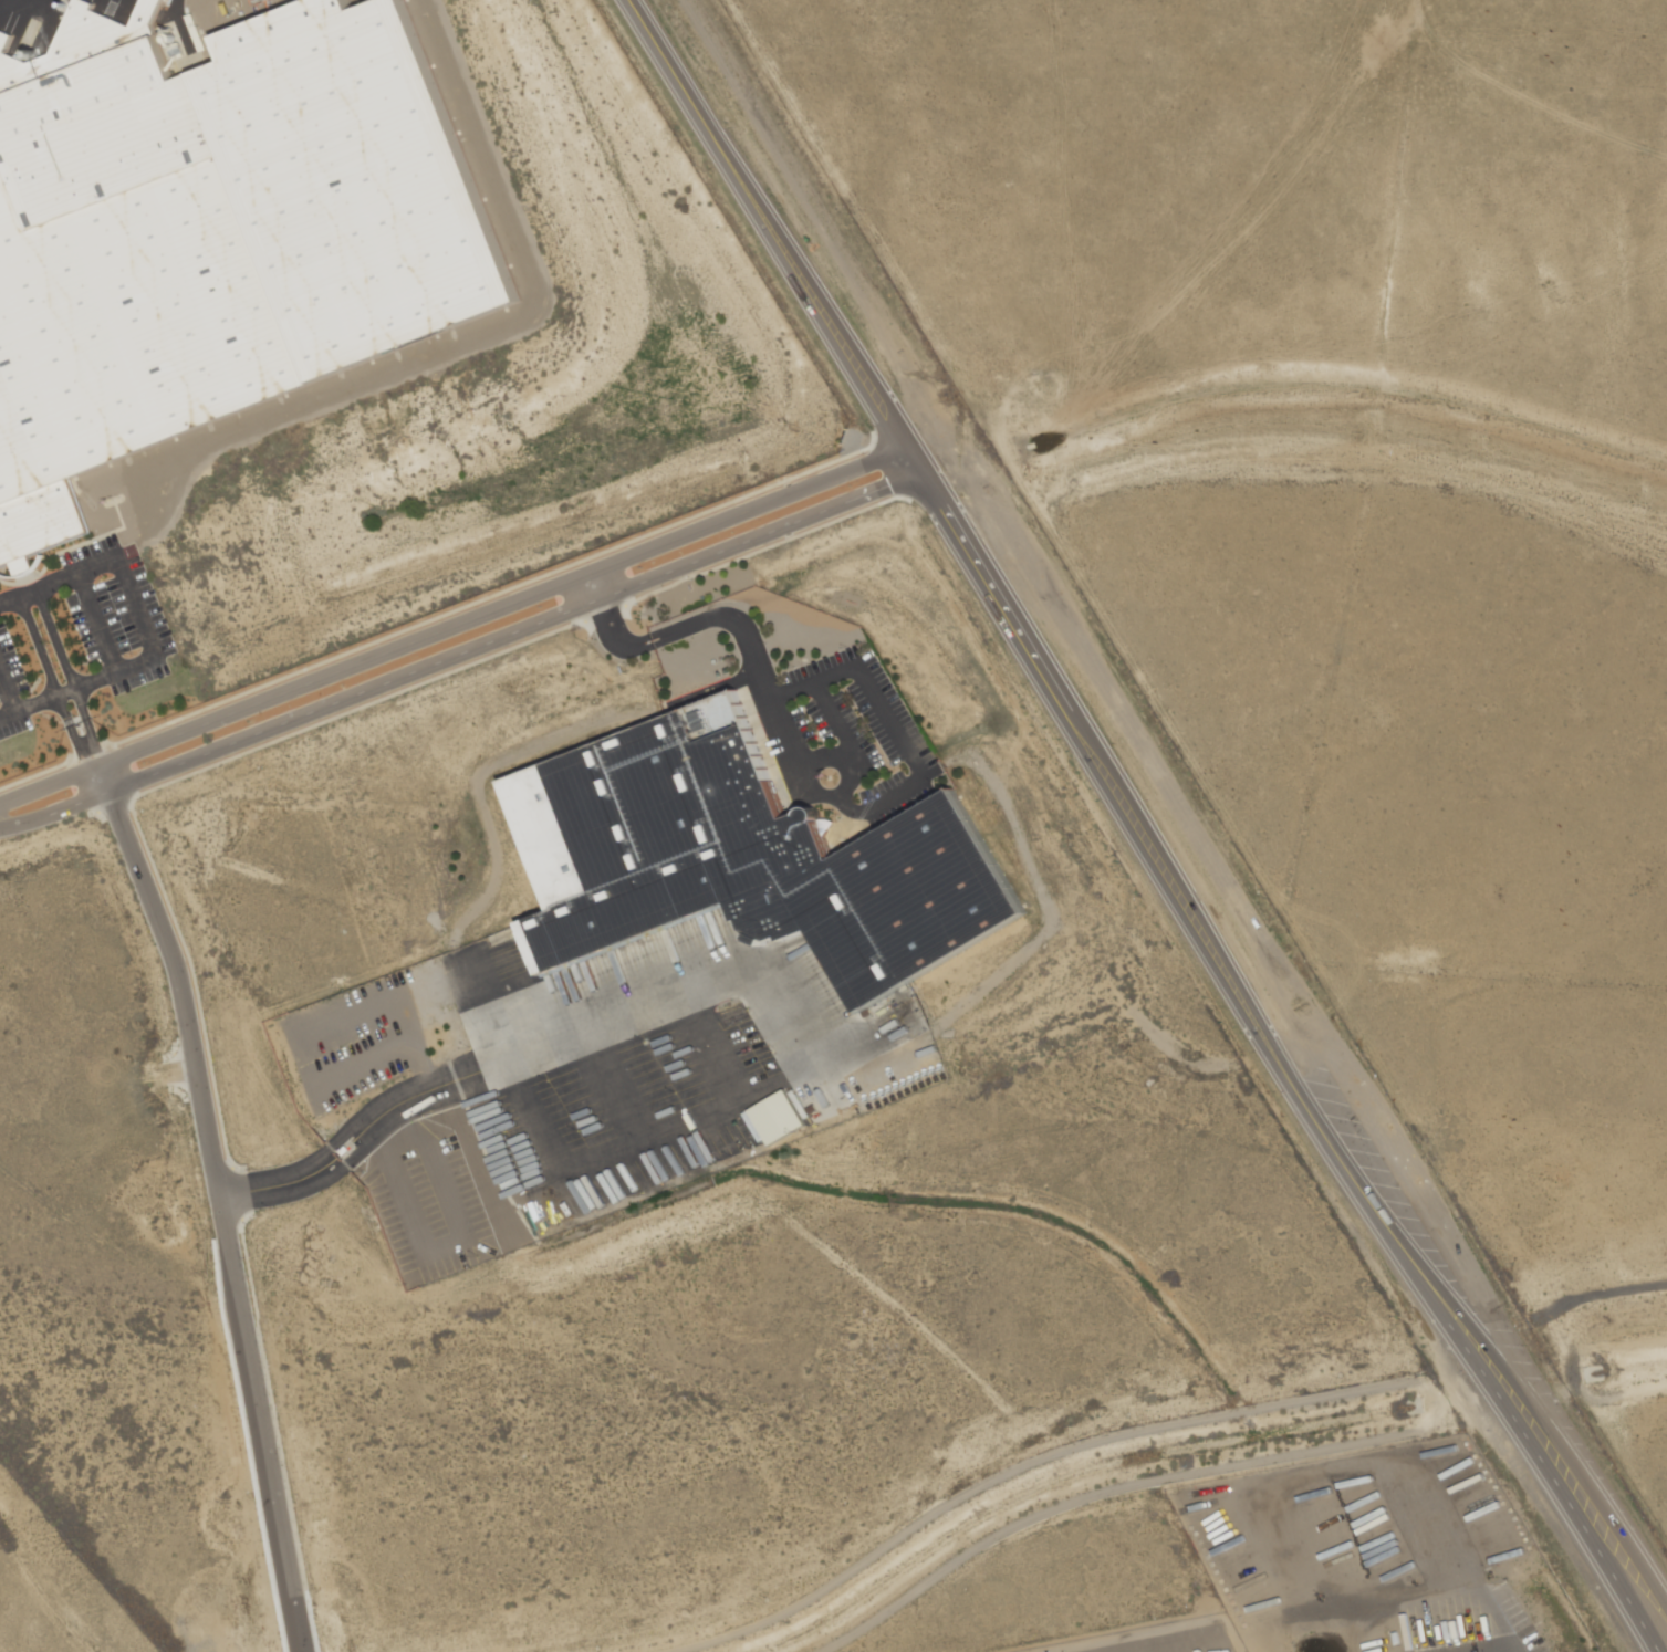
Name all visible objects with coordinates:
building: (217, 232)
road: (592, 583)
road: (449, 620)
road: (691, 625)
road: (143, 630)
road: (512, 632)
road: (1025, 648)
road: (67, 677)
road: (50, 684)
road: (884, 715)
road: (838, 725)
road: (785, 732)
parking lot: (862, 735)
road: (846, 761)
road: (809, 772)
road: (101, 776)
road: (815, 783)
road: (845, 807)
road: (54, 813)
building: (746, 860)
road: (316, 1154)
road: (206, 1196)
road: (1556, 1443)
road: (1545, 1467)
parking lot: (1163, 1640)

